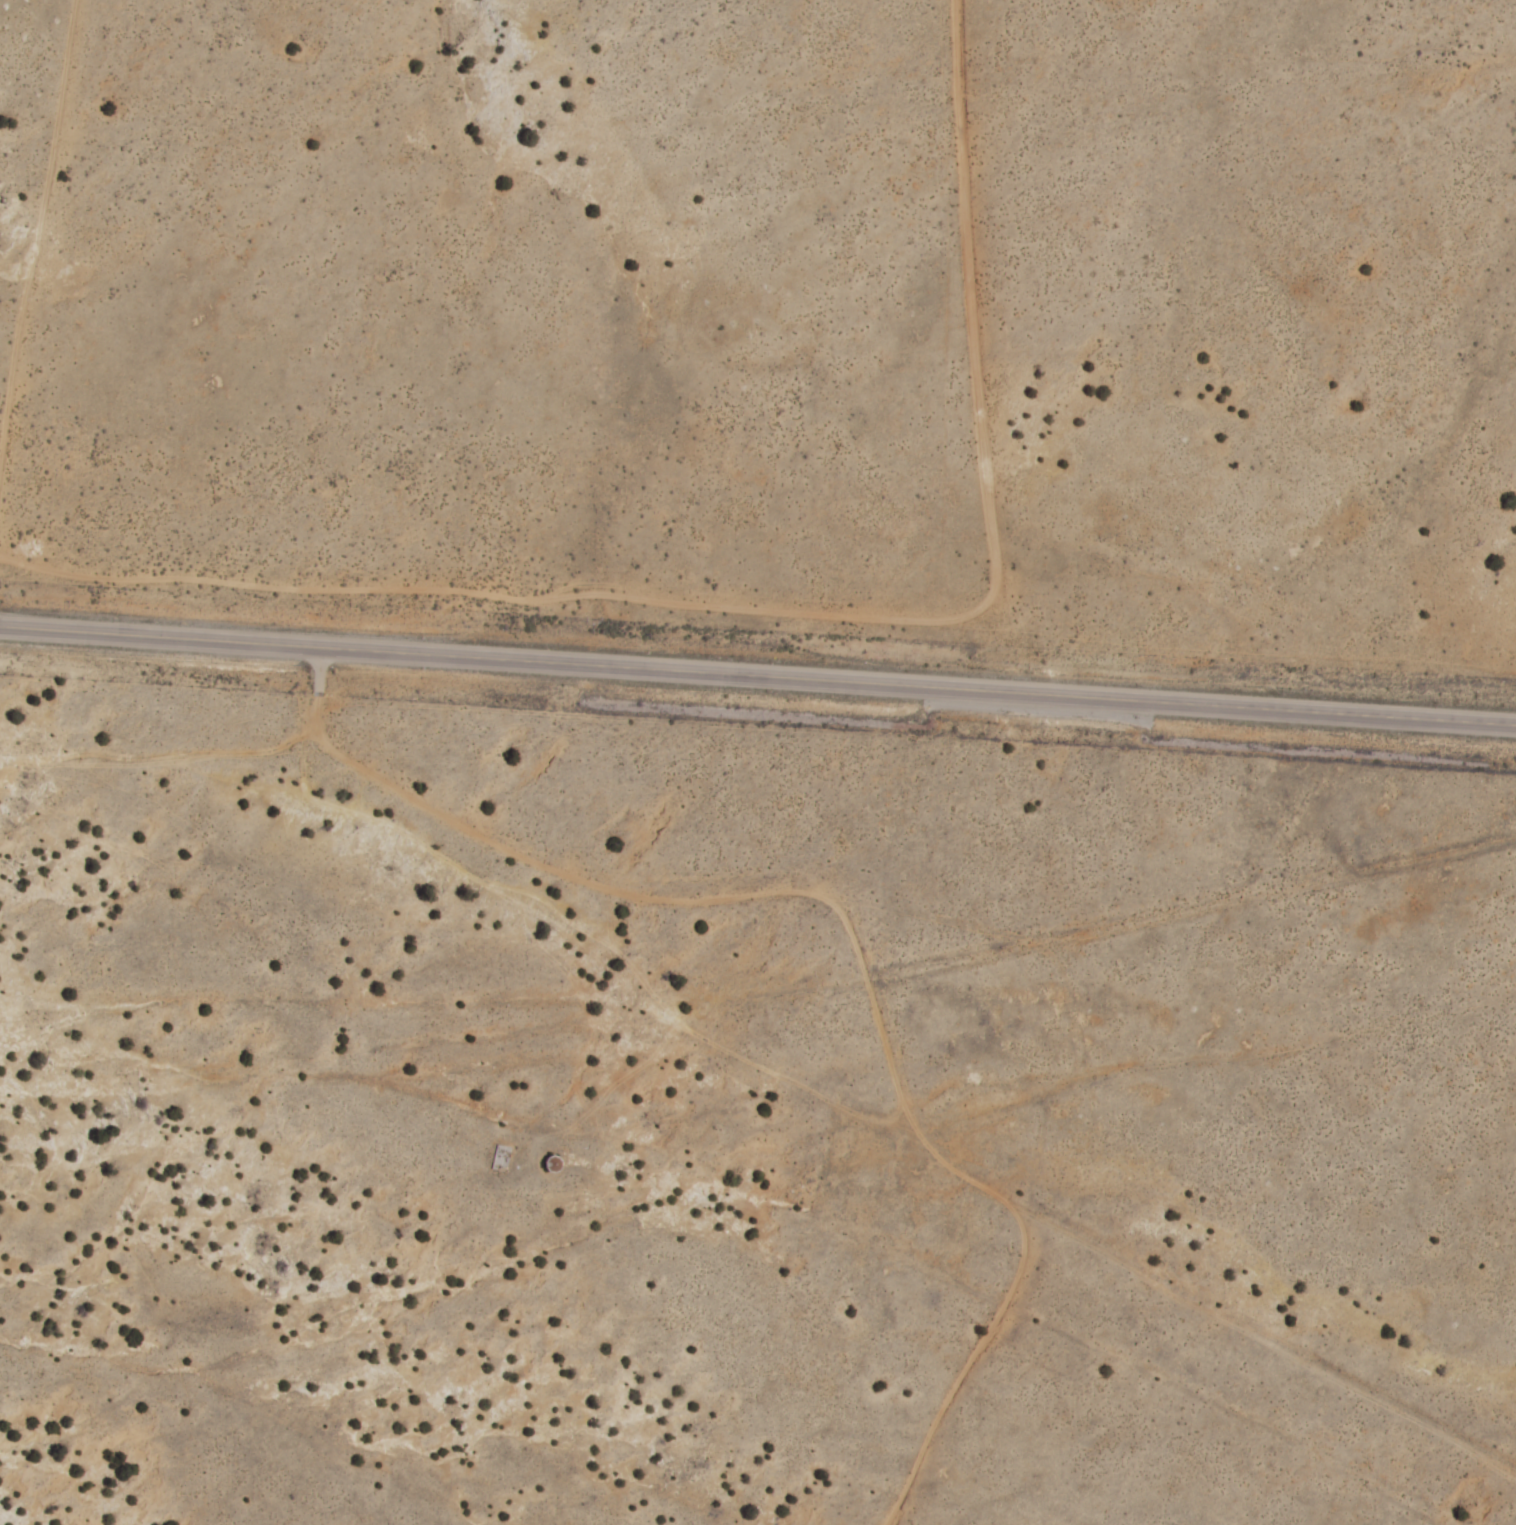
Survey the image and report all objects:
road: (758, 674)
building: (505, 1157)

